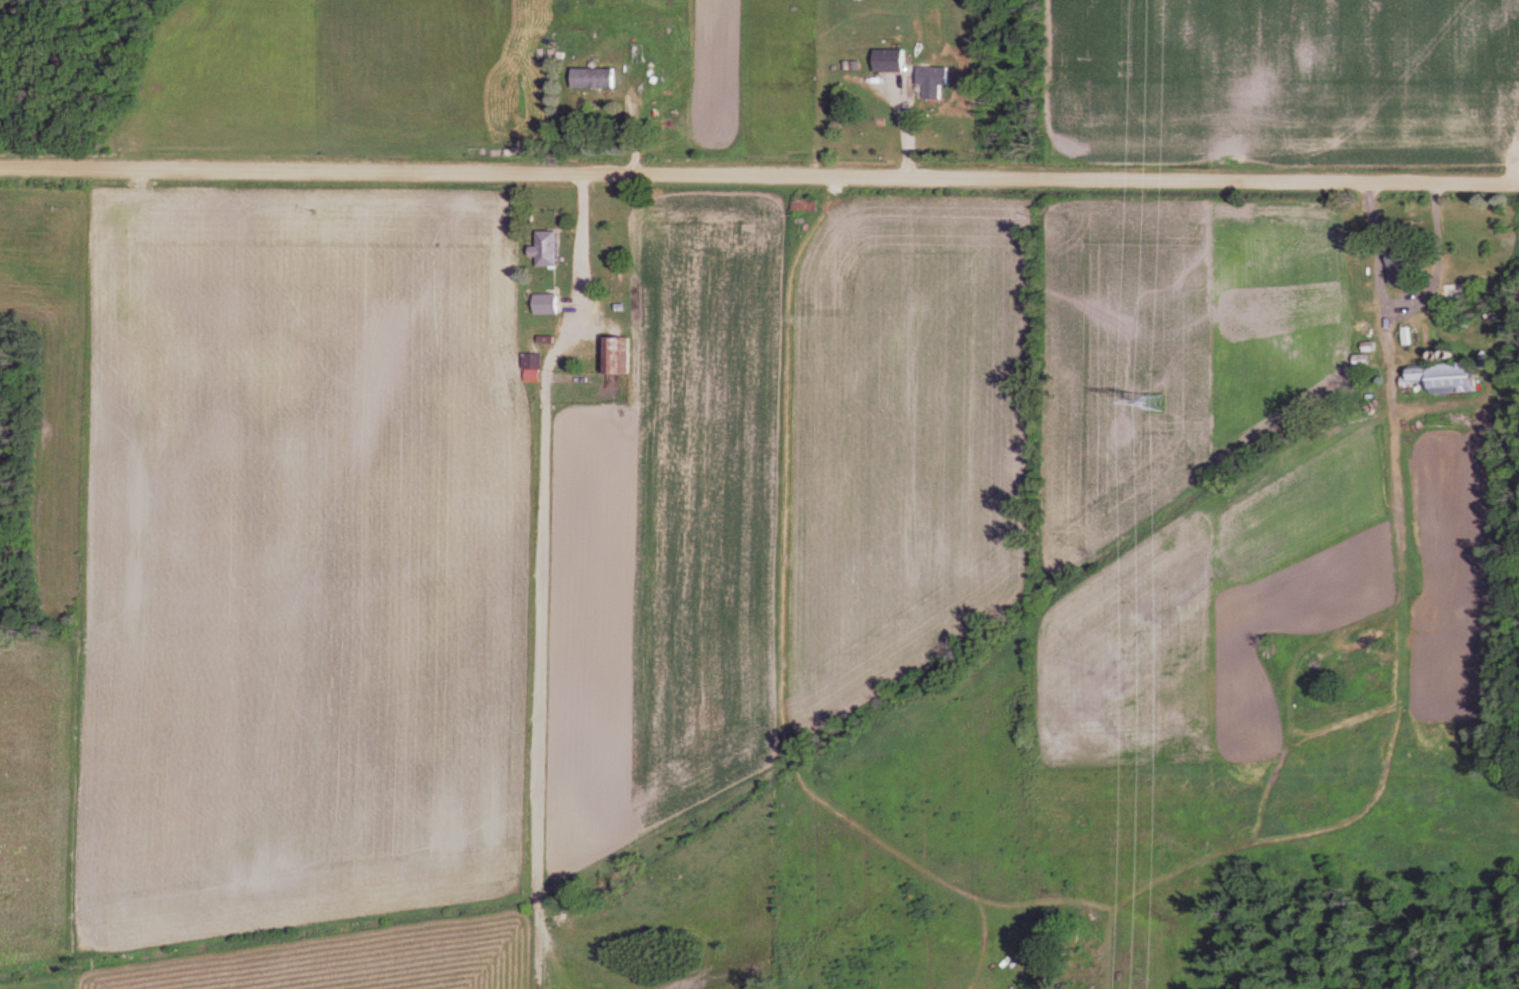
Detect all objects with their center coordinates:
building: (893, 61)
building: (642, 72)
building: (936, 77)
building: (598, 80)
road: (899, 128)
road: (759, 180)
building: (551, 249)
road: (1361, 255)
building: (1402, 267)
road: (574, 274)
building: (1458, 293)
building: (614, 356)
building: (1363, 360)
building: (534, 362)
building: (1448, 378)
power tower: (1156, 404)
building: (1371, 409)

